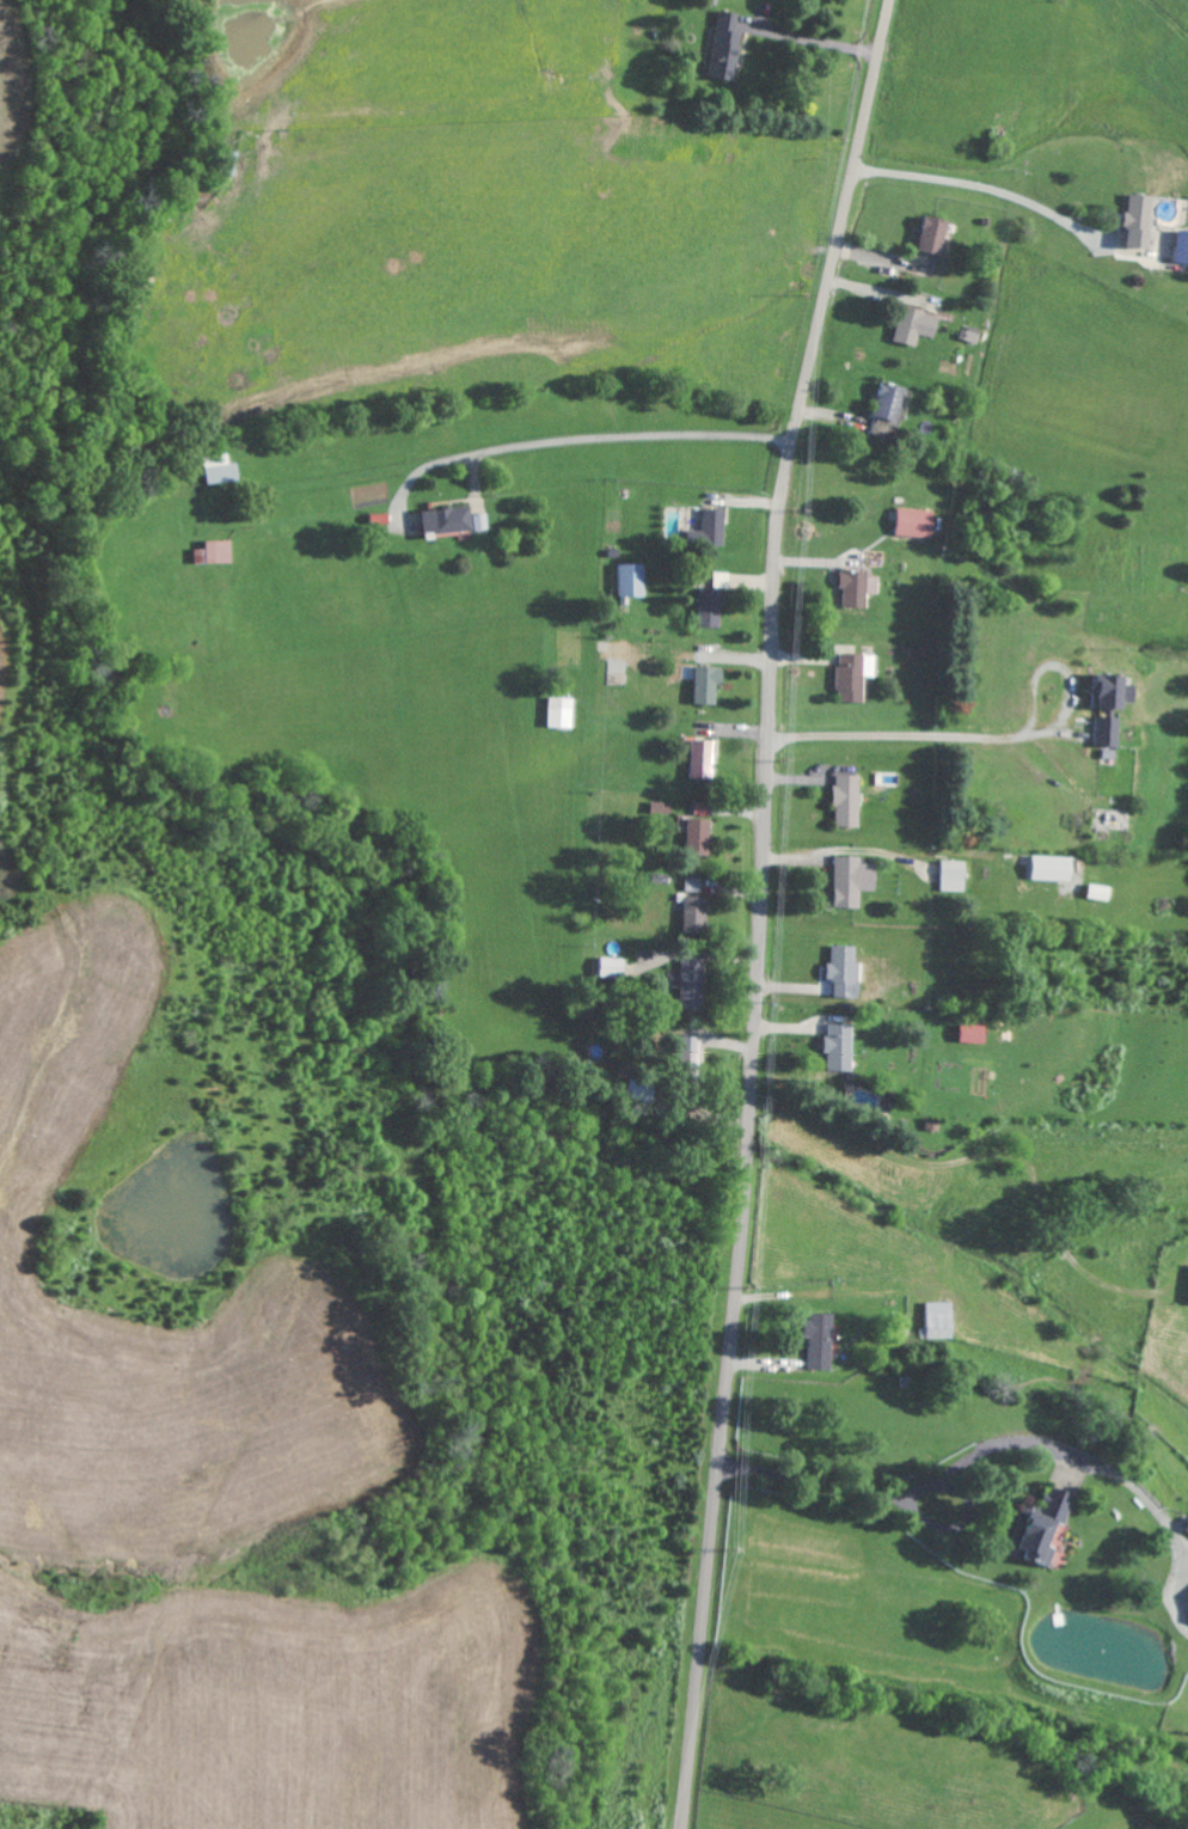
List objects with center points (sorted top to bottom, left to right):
road: (816, 39)
building: (729, 45)
road: (980, 189)
building: (1143, 221)
building: (937, 234)
building: (1184, 246)
building: (920, 325)
building: (892, 409)
road: (582, 439)
building: (223, 469)
building: (455, 520)
building: (918, 522)
building: (717, 526)
building: (218, 552)
building: (635, 580)
building: (862, 587)
building: (714, 607)
building: (620, 650)
building: (858, 675)
building: (711, 684)
building: (1117, 691)
building: (564, 711)
road: (993, 735)
building: (1109, 735)
building: (708, 759)
building: (851, 800)
building: (706, 808)
building: (702, 834)
building: (1055, 868)
building: (956, 875)
building: (856, 880)
building: (1102, 892)
road: (12, 904)
building: (699, 907)
road: (765, 910)
building: (614, 967)
building: (847, 971)
building: (694, 984)
building: (976, 1034)
building: (843, 1047)
building: (939, 1320)
building: (823, 1341)
road: (1106, 1469)
road: (895, 1499)
building: (1046, 1528)
building: (1187, 1533)

